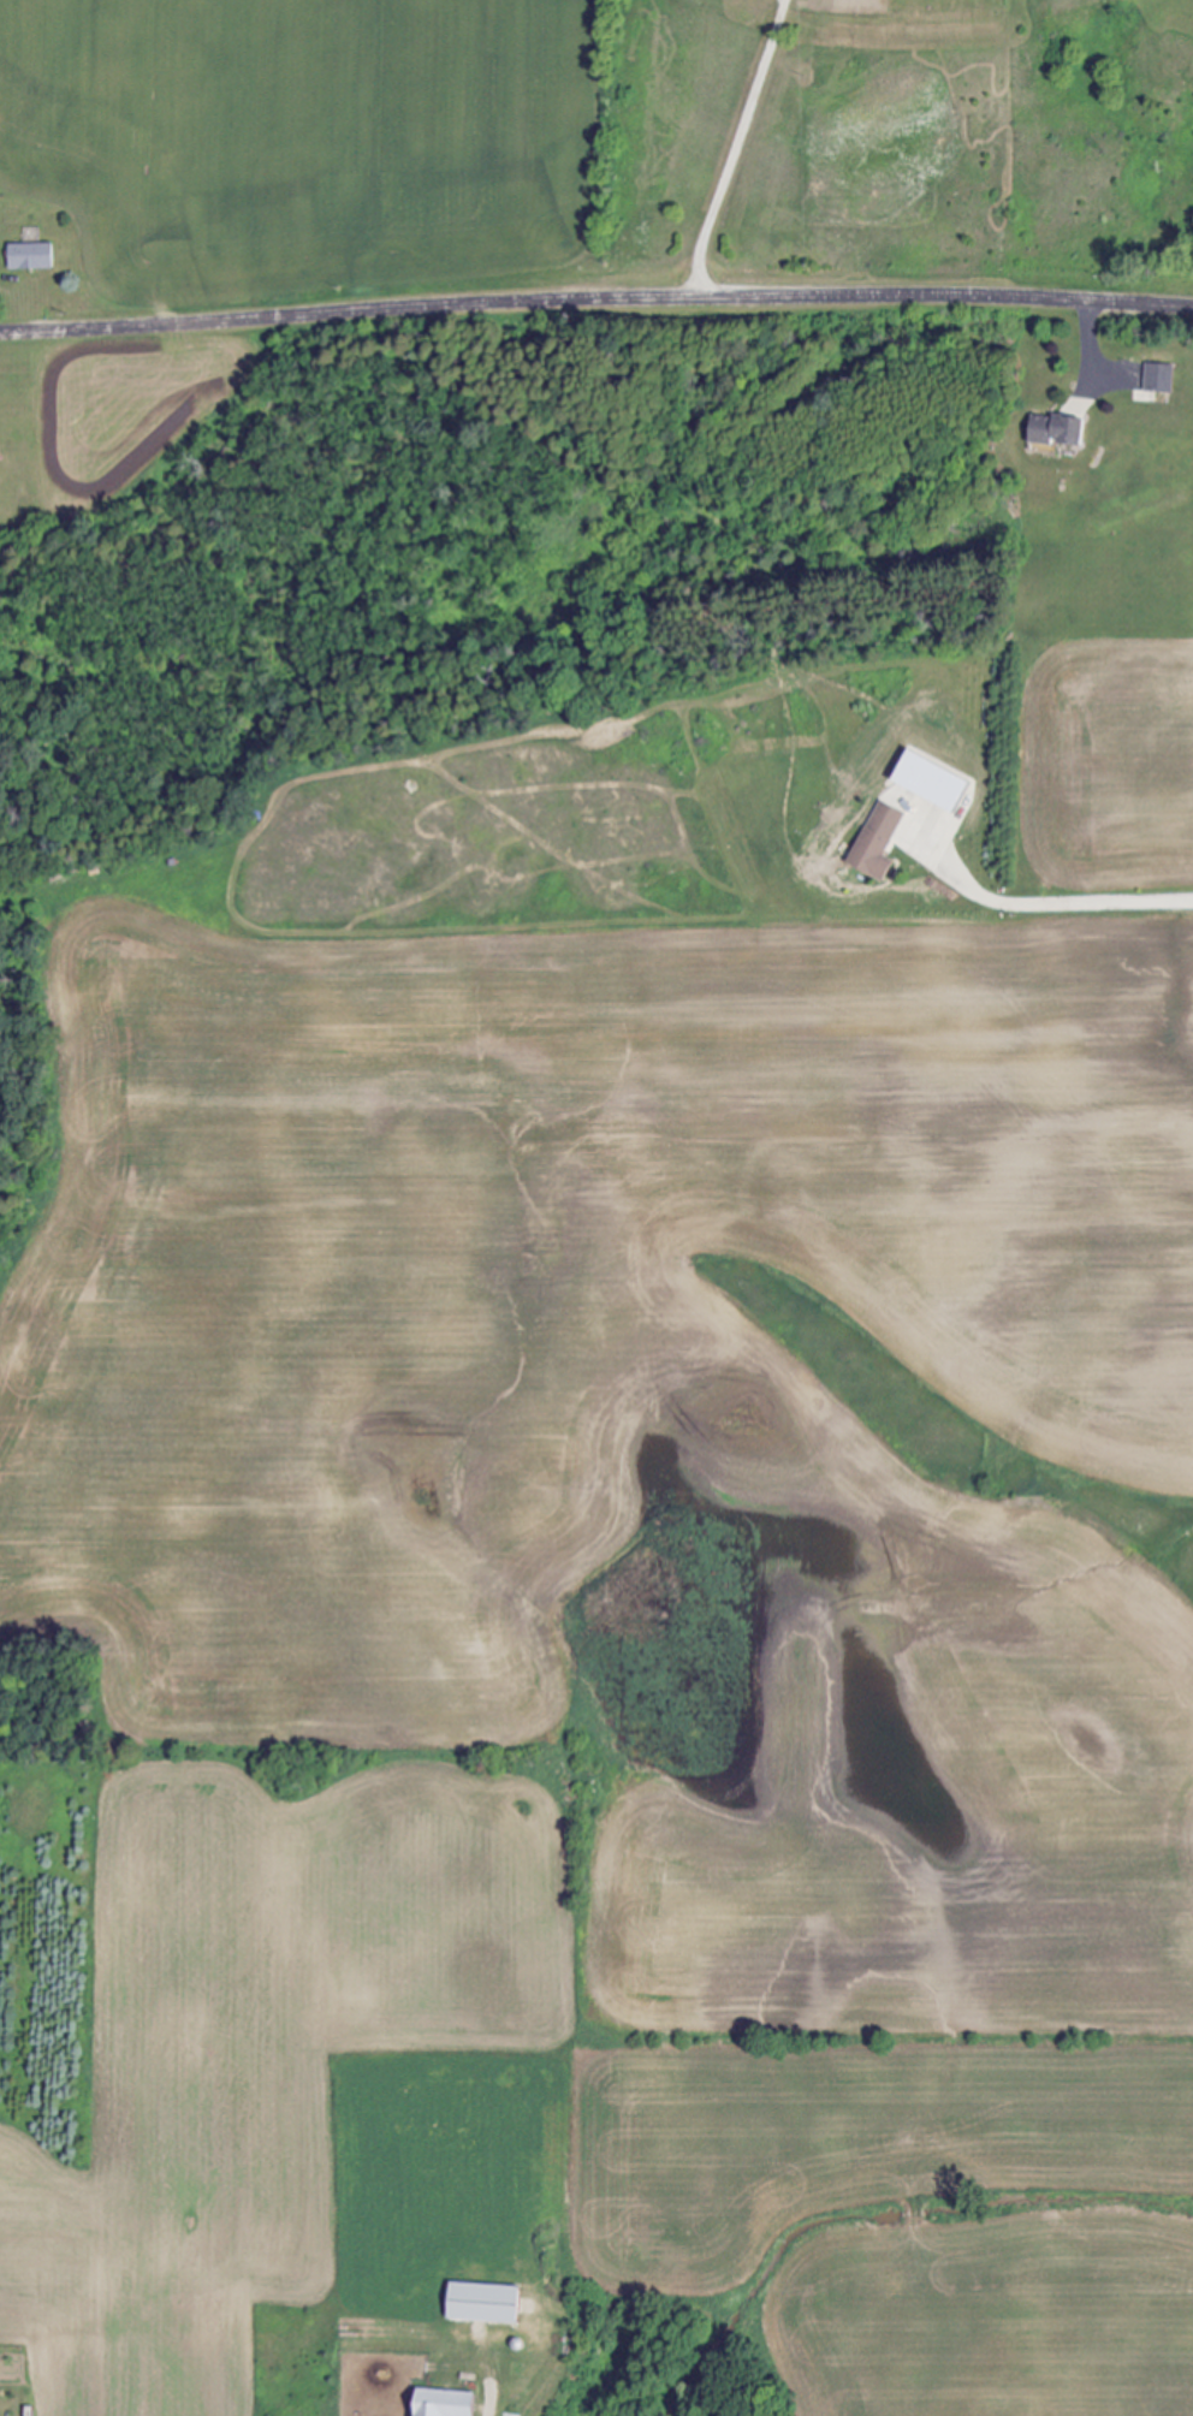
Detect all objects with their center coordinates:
road: (735, 147)
building: (28, 255)
road: (595, 297)
road: (1091, 336)
building: (1156, 378)
building: (1050, 431)
building: (924, 780)
building: (873, 841)
road: (1047, 906)
building: (477, 2302)
building: (438, 2403)

